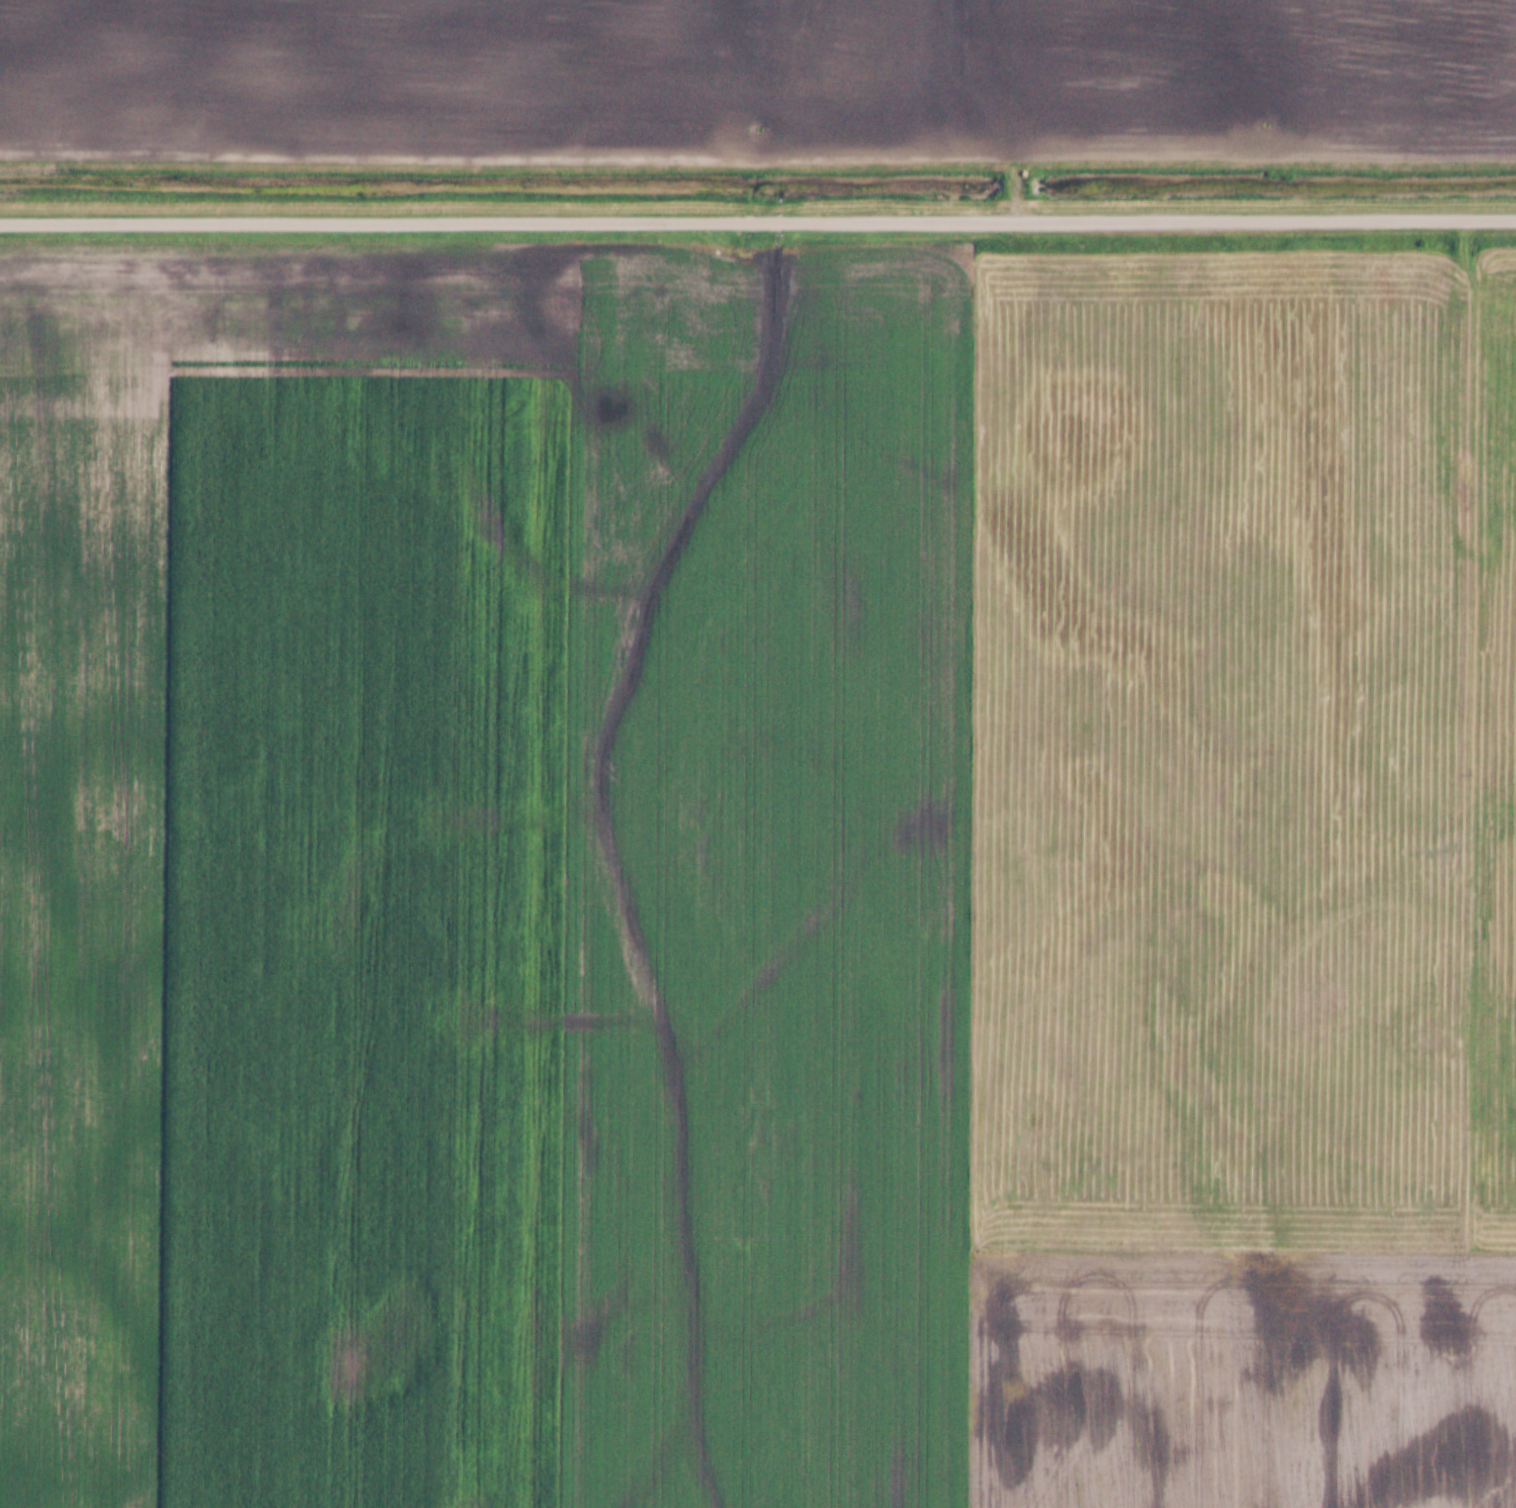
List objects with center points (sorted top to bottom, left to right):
road: (758, 224)

